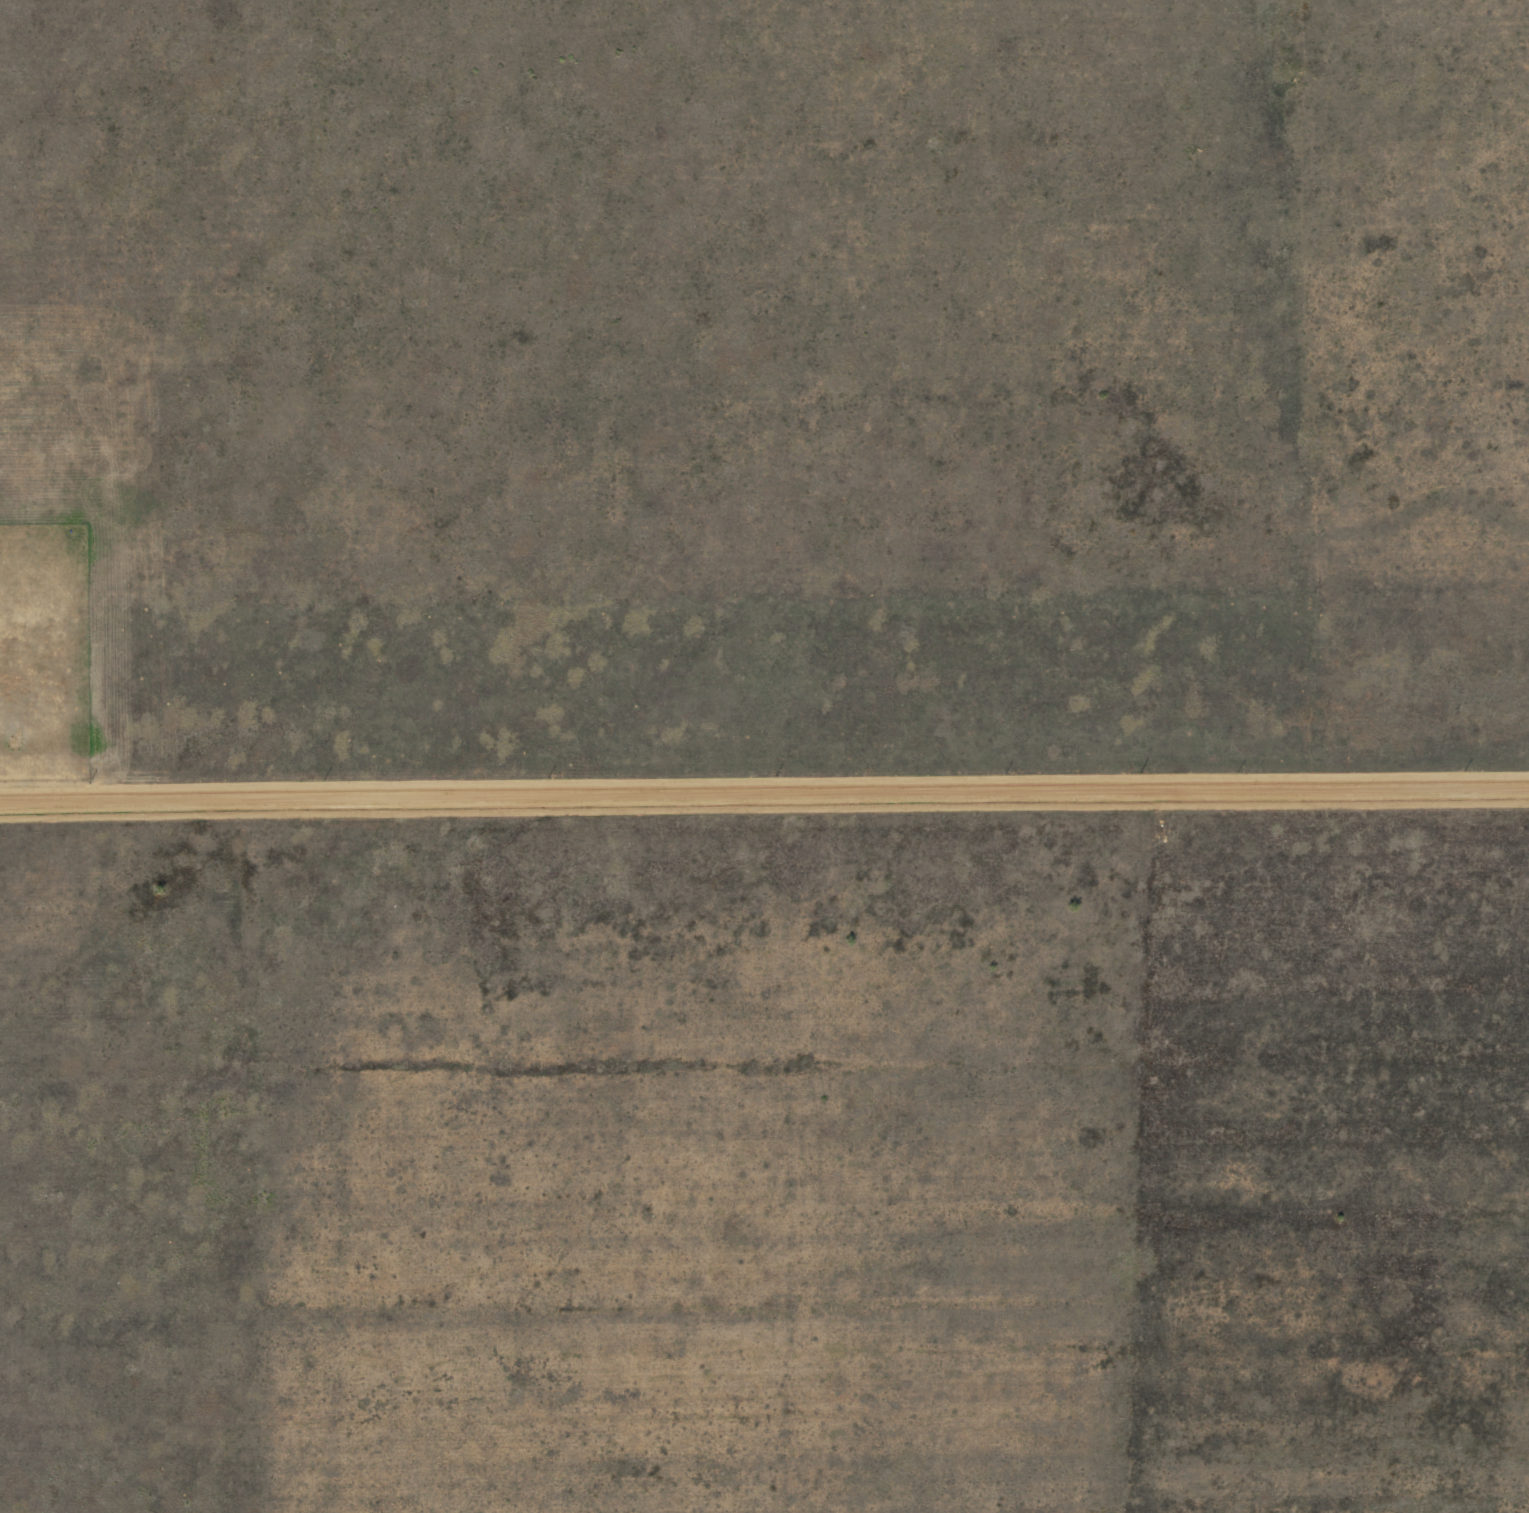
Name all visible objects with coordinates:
road: (764, 820)

